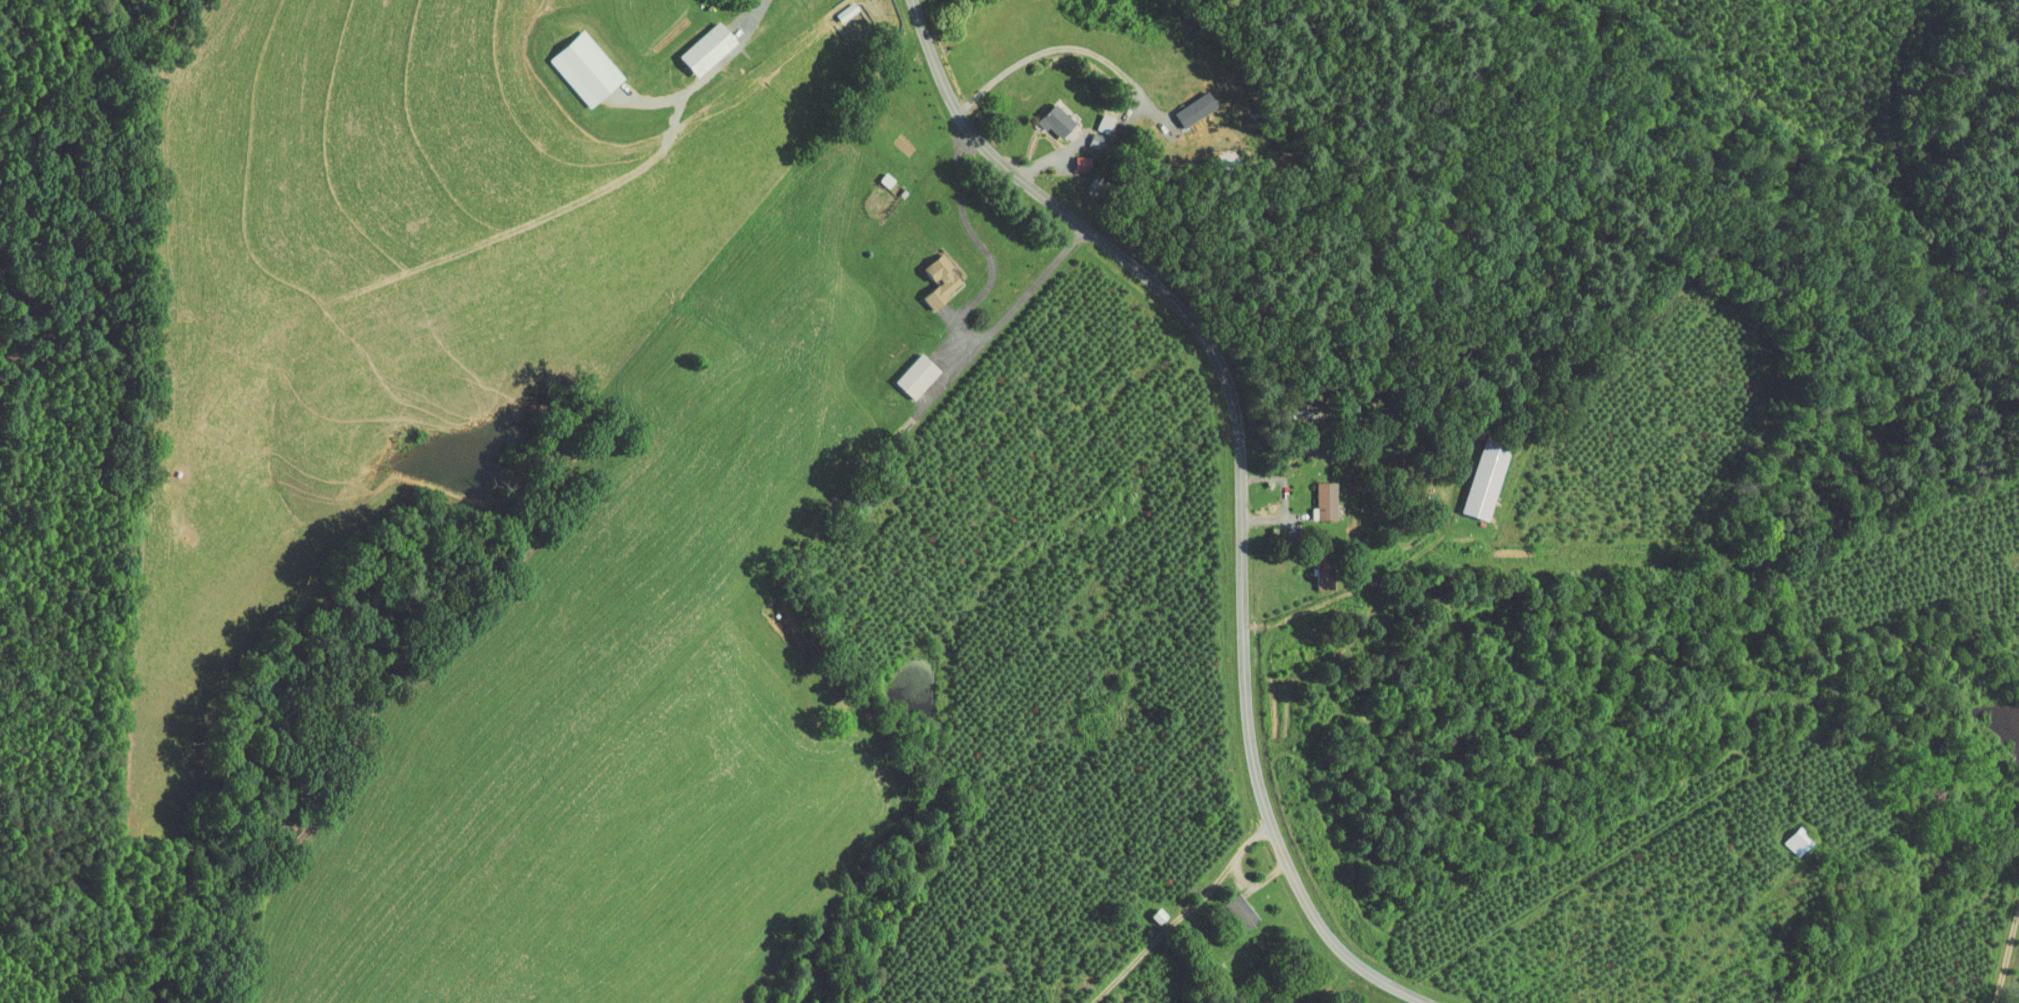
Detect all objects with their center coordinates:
building: (831, 6)
building: (690, 42)
building: (569, 60)
road: (706, 74)
building: (1179, 102)
building: (1039, 113)
building: (1091, 116)
building: (871, 172)
building: (924, 273)
road: (969, 304)
building: (900, 369)
building: (1470, 474)
road: (1239, 475)
building: (1310, 494)
building: (1783, 834)
building: (1225, 904)
road: (1182, 913)
road: (2005, 950)

